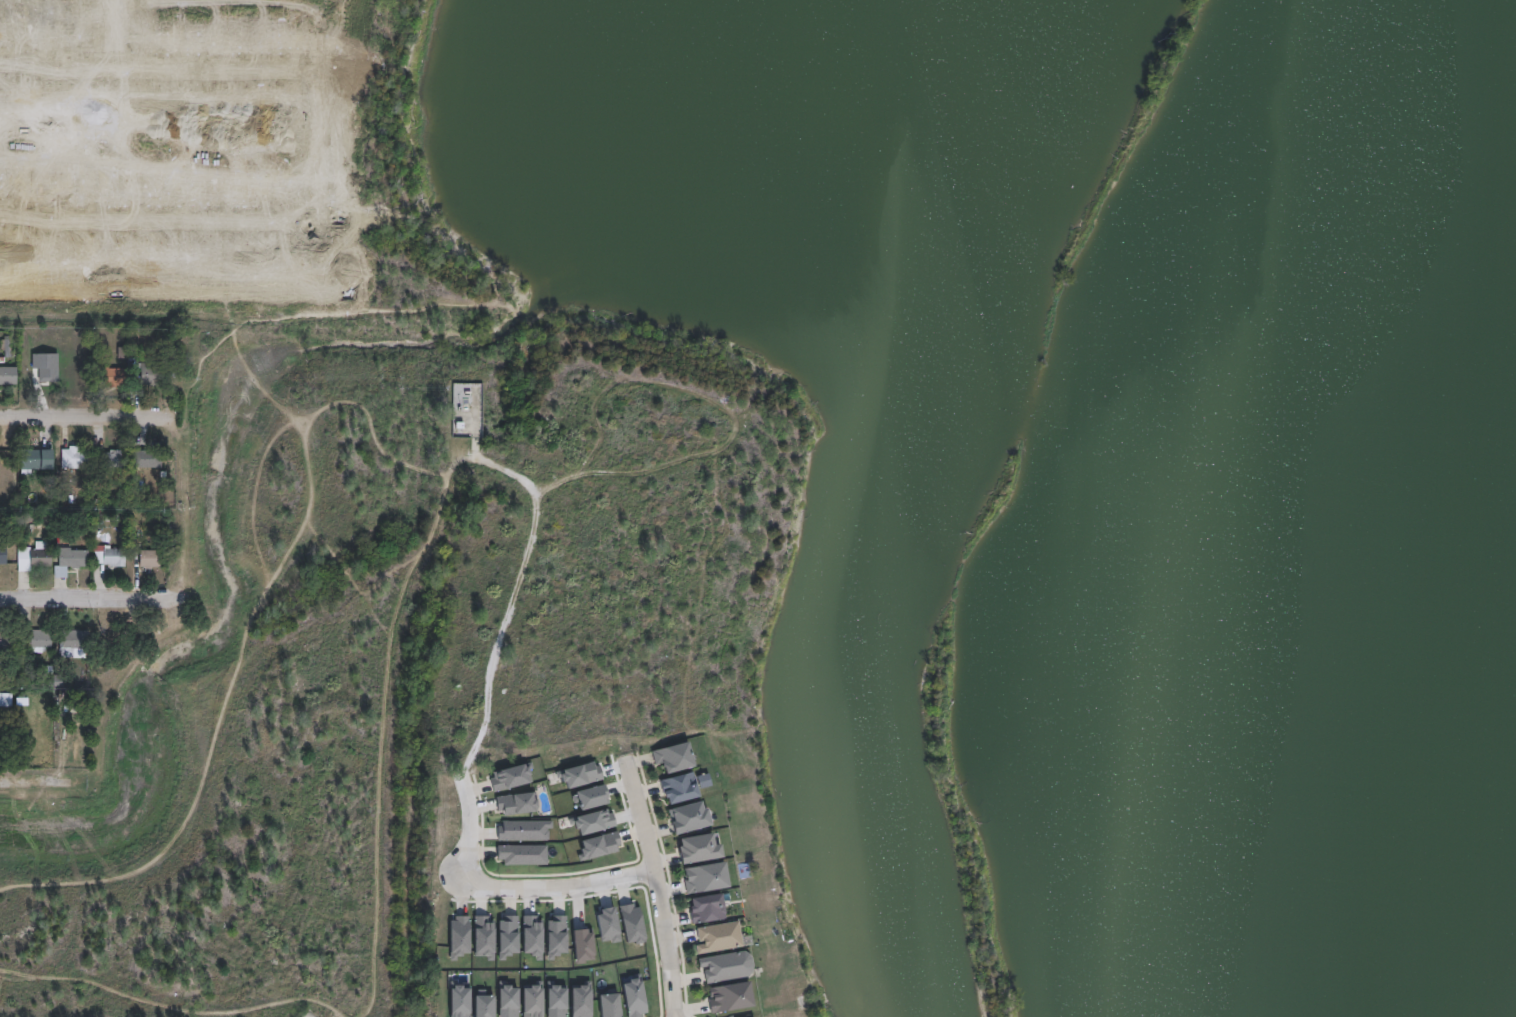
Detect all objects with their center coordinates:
building: (6, 352)
building: (46, 366)
building: (139, 367)
building: (7, 375)
building: (110, 376)
road: (73, 414)
building: (73, 458)
building: (111, 459)
building: (144, 459)
building: (32, 460)
building: (2, 554)
building: (34, 557)
building: (108, 557)
building: (147, 559)
building: (67, 561)
road: (91, 596)
road: (510, 606)
building: (71, 639)
building: (5, 641)
building: (32, 642)
building: (675, 758)
building: (580, 774)
road: (37, 780)
building: (680, 788)
building: (591, 797)
building: (689, 817)
building: (591, 822)
building: (700, 848)
building: (706, 878)
road: (655, 889)
road: (513, 890)
building: (707, 909)
building: (718, 938)
building: (725, 967)
building: (731, 997)
building: (557, 999)
building: (460, 1000)
building: (508, 1000)
building: (609, 1003)

